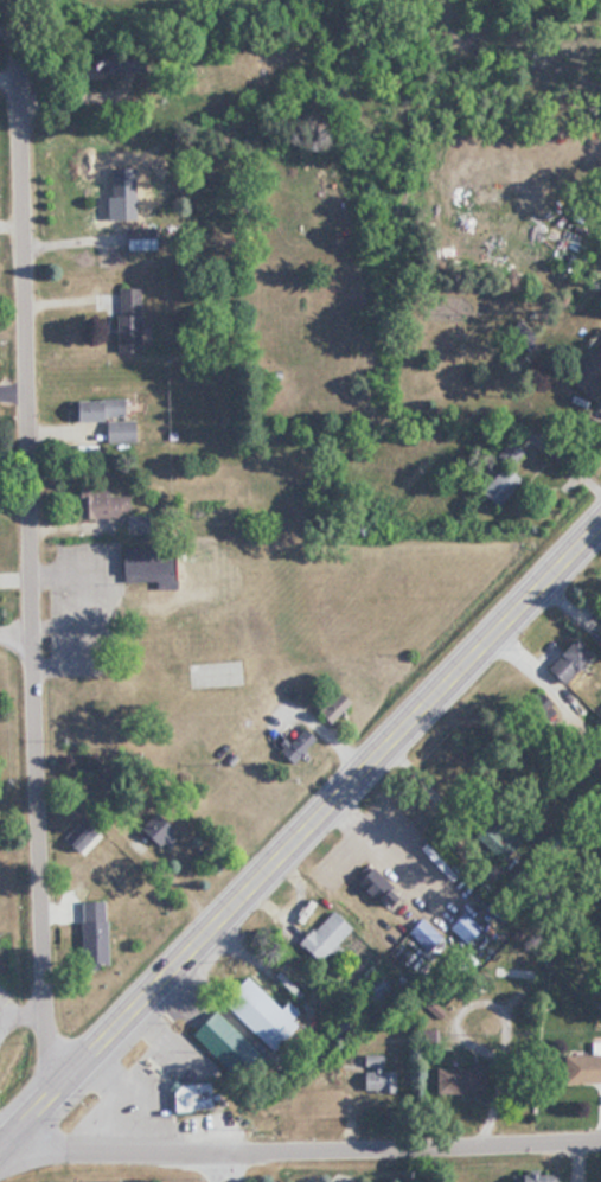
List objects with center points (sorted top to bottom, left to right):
park: (289, 2)
building: (123, 204)
building: (465, 238)
building: (122, 318)
road: (11, 324)
building: (113, 416)
building: (495, 485)
building: (108, 499)
road: (26, 541)
building: (168, 566)
building: (562, 660)
building: (337, 704)
building: (303, 740)
road: (301, 830)
building: (377, 882)
building: (331, 935)
building: (98, 941)
building: (250, 1024)
building: (587, 1067)
building: (381, 1076)
building: (467, 1078)
building: (191, 1093)
road: (300, 1148)
road: (212, 1165)
road: (234, 1165)
building: (539, 1177)

